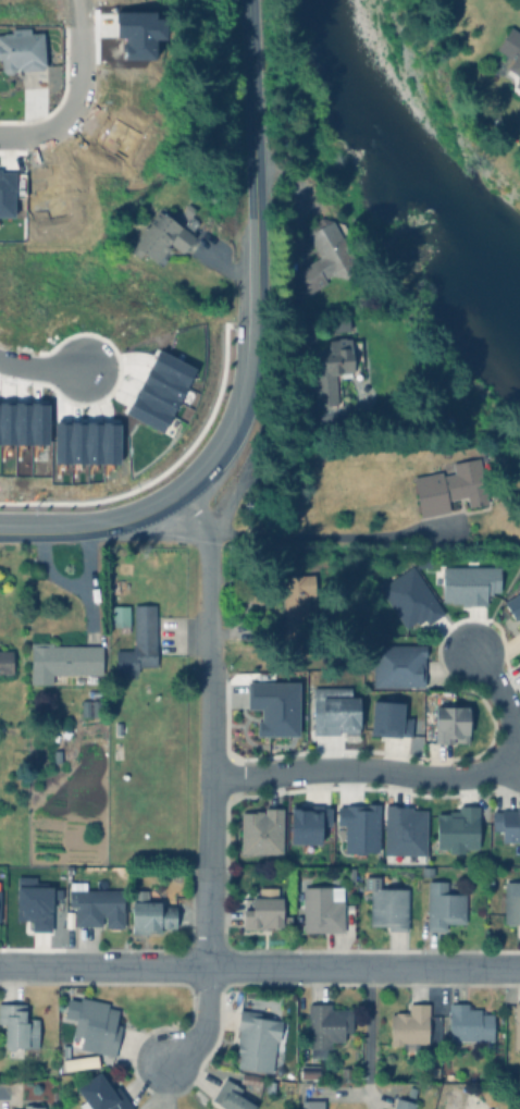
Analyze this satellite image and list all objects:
building: (507, 39)
building: (20, 48)
building: (516, 67)
road: (69, 110)
river: (401, 153)
road: (257, 233)
building: (157, 237)
building: (288, 249)
building: (324, 254)
road: (46, 367)
building: (332, 368)
building: (156, 390)
building: (447, 486)
road: (119, 522)
road: (317, 535)
building: (468, 583)
road: (208, 586)
road: (81, 593)
building: (294, 595)
building: (409, 599)
building: (512, 603)
building: (115, 618)
building: (519, 621)
building: (519, 628)
building: (136, 639)
building: (518, 656)
building: (59, 658)
building: (5, 662)
building: (396, 663)
building: (271, 704)
building: (83, 705)
building: (92, 705)
building: (334, 710)
building: (385, 715)
building: (449, 720)
building: (54, 754)
road: (513, 761)
road: (420, 778)
building: (302, 822)
building: (506, 822)
building: (356, 825)
road: (209, 827)
building: (258, 828)
building: (401, 828)
building: (456, 828)
building: (425, 868)
building: (0, 900)
building: (510, 900)
building: (384, 902)
building: (94, 903)
building: (441, 903)
building: (33, 905)
building: (320, 907)
building: (258, 911)
building: (148, 912)
road: (259, 968)
road: (201, 1021)
building: (467, 1022)
building: (95, 1023)
building: (516, 1023)
building: (323, 1025)
building: (407, 1025)
building: (15, 1026)
road: (375, 1034)
building: (256, 1038)
building: (63, 1056)
building: (82, 1061)
building: (307, 1070)
building: (343, 1071)
building: (267, 1084)
building: (97, 1094)
building: (231, 1096)
building: (403, 1099)
building: (309, 1104)
building: (27, 1106)
building: (485, 1108)

